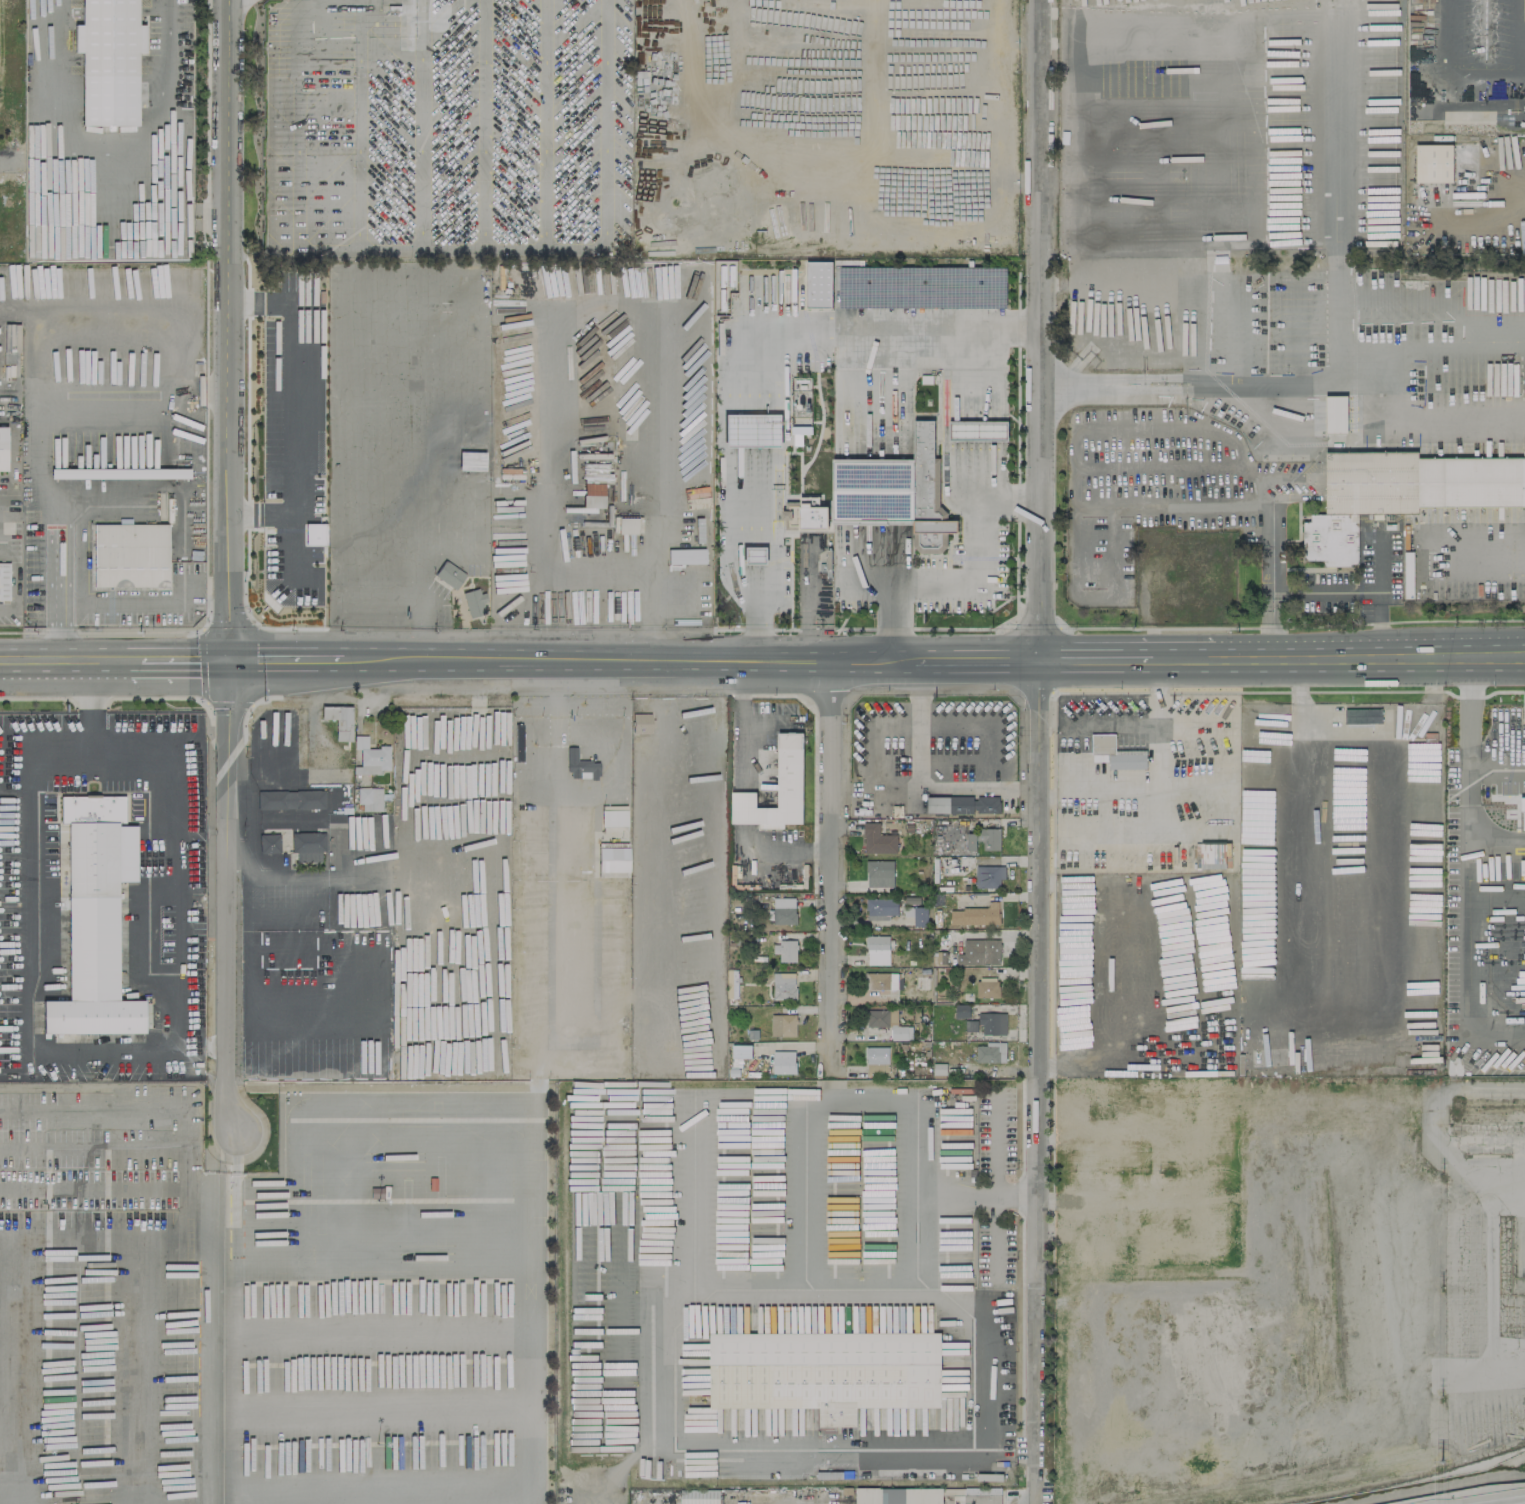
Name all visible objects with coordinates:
building: (1524, 9)
road: (1282, 14)
building: (886, 46)
building: (107, 60)
road: (622, 70)
building: (1433, 163)
road: (8, 164)
road: (103, 174)
road: (1511, 192)
road: (312, 232)
building: (818, 284)
road: (605, 306)
road: (228, 331)
road: (1038, 331)
road: (943, 338)
road: (802, 339)
road: (1152, 339)
road: (1481, 343)
road: (1390, 345)
road: (1342, 364)
road: (749, 371)
road: (1154, 379)
road: (1277, 384)
road: (1067, 386)
road: (880, 392)
road: (1155, 393)
road: (98, 405)
road: (292, 409)
building: (1335, 414)
road: (1423, 424)
building: (751, 430)
building: (980, 432)
road: (752, 433)
building: (2, 448)
building: (118, 473)
road: (145, 486)
building: (898, 492)
building: (1401, 493)
road: (876, 495)
road: (755, 503)
building: (815, 517)
building: (626, 525)
building: (313, 534)
building: (129, 555)
building: (753, 555)
road: (756, 555)
building: (685, 556)
road: (883, 564)
road: (1480, 568)
building: (448, 574)
building: (1408, 574)
road: (1265, 579)
building: (3, 581)
road: (756, 583)
road: (959, 583)
building: (473, 602)
road: (128, 603)
road: (421, 623)
road: (759, 633)
road: (134, 663)
road: (184, 663)
road: (285, 663)
road: (64, 664)
road: (933, 664)
road: (1478, 699)
road: (1297, 708)
building: (1362, 716)
building: (338, 720)
building: (640, 723)
road: (315, 733)
building: (1114, 753)
building: (370, 757)
road: (153, 758)
building: (790, 762)
building: (579, 766)
road: (1489, 766)
road: (920, 783)
road: (1156, 786)
building: (290, 799)
building: (369, 799)
building: (963, 804)
building: (1522, 808)
building: (612, 817)
building: (984, 839)
building: (877, 840)
building: (268, 843)
building: (307, 845)
building: (612, 859)
road: (832, 870)
building: (879, 873)
building: (988, 876)
road: (562, 888)
road: (226, 900)
building: (881, 908)
building: (784, 910)
building: (100, 915)
building: (917, 915)
building: (975, 915)
building: (785, 950)
building: (877, 950)
building: (979, 952)
road: (1487, 954)
road: (26, 978)
building: (880, 981)
building: (783, 986)
building: (987, 989)
building: (962, 1010)
building: (888, 1023)
building: (987, 1024)
building: (783, 1025)
building: (741, 1051)
building: (991, 1052)
building: (877, 1059)
building: (783, 1062)
building: (939, 1071)
road: (1036, 1083)
building: (1109, 1084)
building: (1147, 1084)
road: (811, 1097)
building: (1123, 1100)
road: (460, 1104)
road: (157, 1108)
road: (1124, 1132)
road: (91, 1147)
building: (1190, 1153)
building: (1082, 1154)
building: (1122, 1157)
building: (1139, 1179)
building: (1082, 1184)
building: (1109, 1184)
building: (1175, 1186)
road: (994, 1187)
road: (96, 1190)
road: (696, 1190)
road: (1118, 1202)
road: (1153, 1204)
road: (1084, 1215)
building: (1125, 1219)
building: (1217, 1222)
building: (1082, 1248)
building: (1108, 1249)
building: (1158, 1252)
building: (825, 1372)
road: (653, 1396)
building: (927, 1495)
building: (699, 1496)
road: (14, 1498)
road: (1521, 1503)

